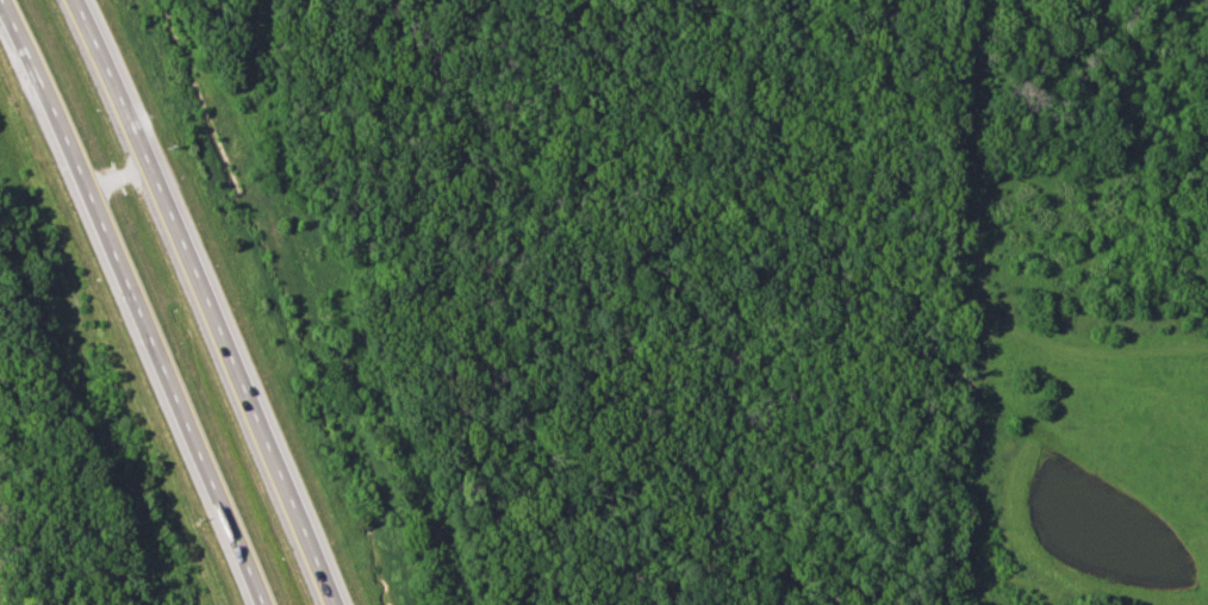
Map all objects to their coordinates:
road: (137, 301)
road: (205, 301)

